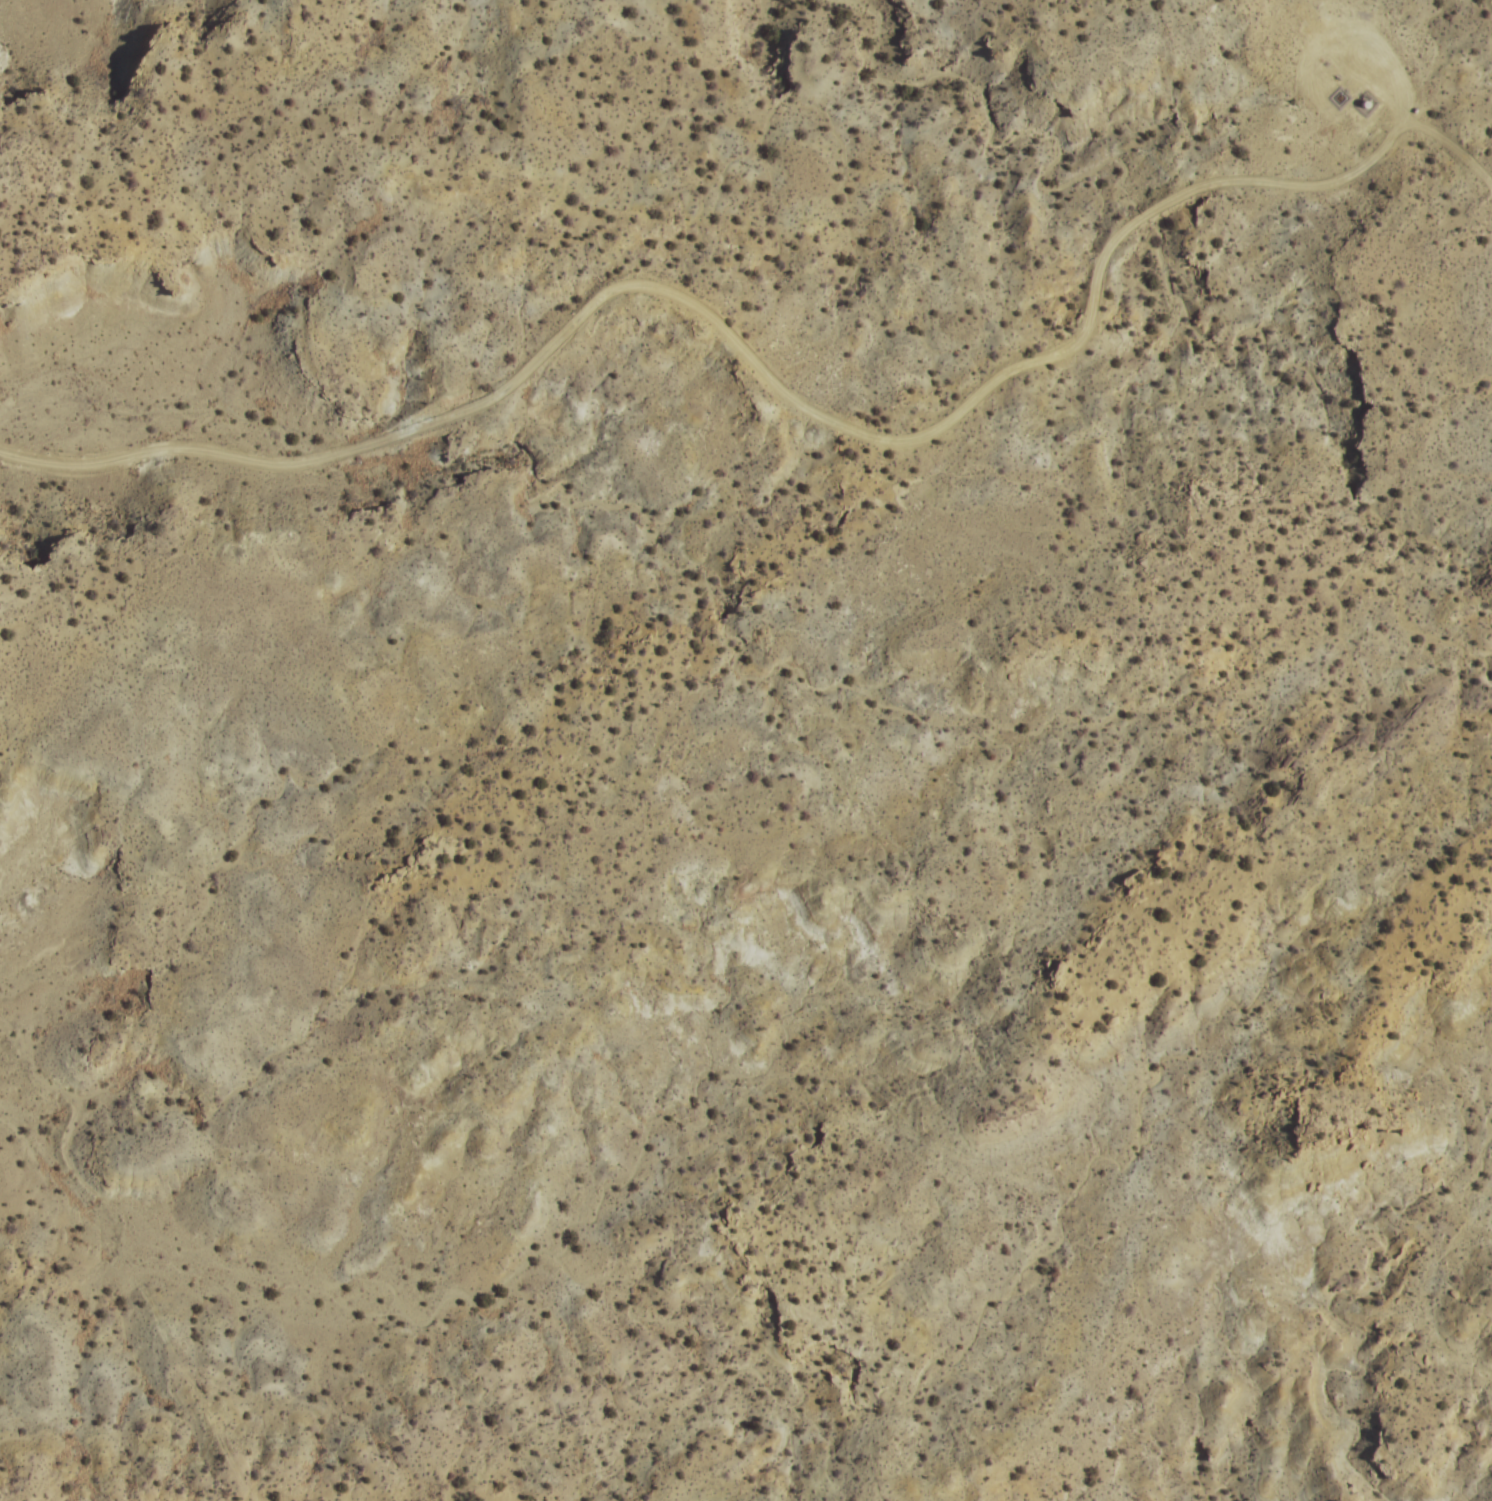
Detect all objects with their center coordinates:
road: (1347, 42)
road: (787, 389)

